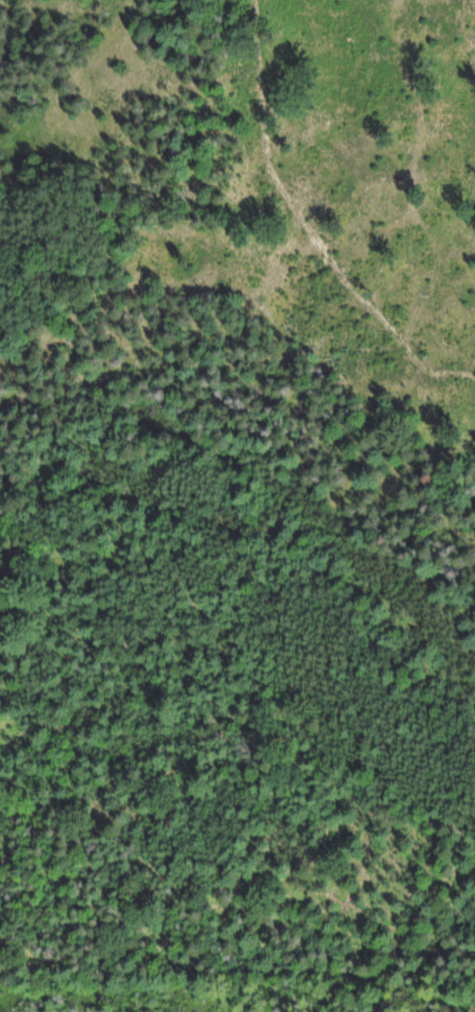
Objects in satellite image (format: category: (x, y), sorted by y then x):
road: (242, 740)

